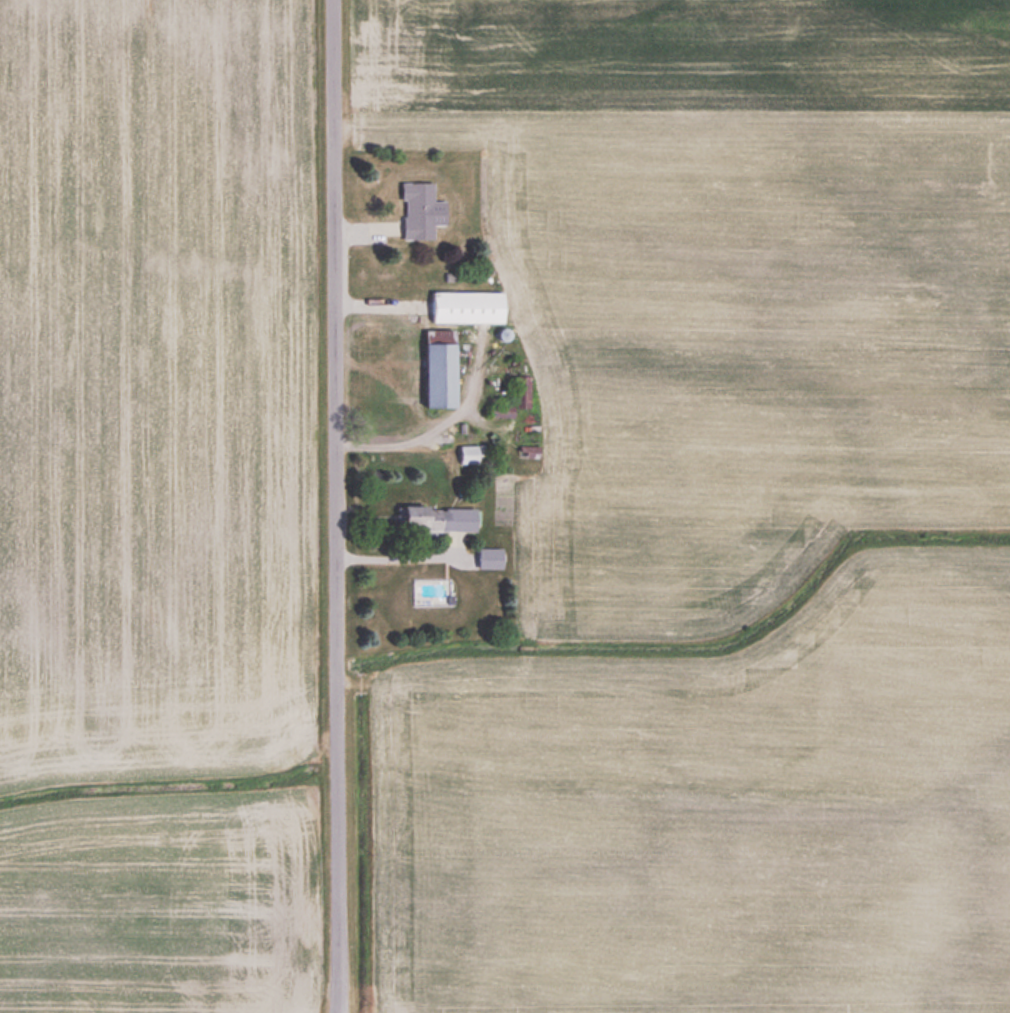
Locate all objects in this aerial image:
building: (419, 210)
building: (465, 306)
building: (438, 369)
building: (466, 453)
road: (333, 506)
building: (438, 517)
building: (488, 557)

